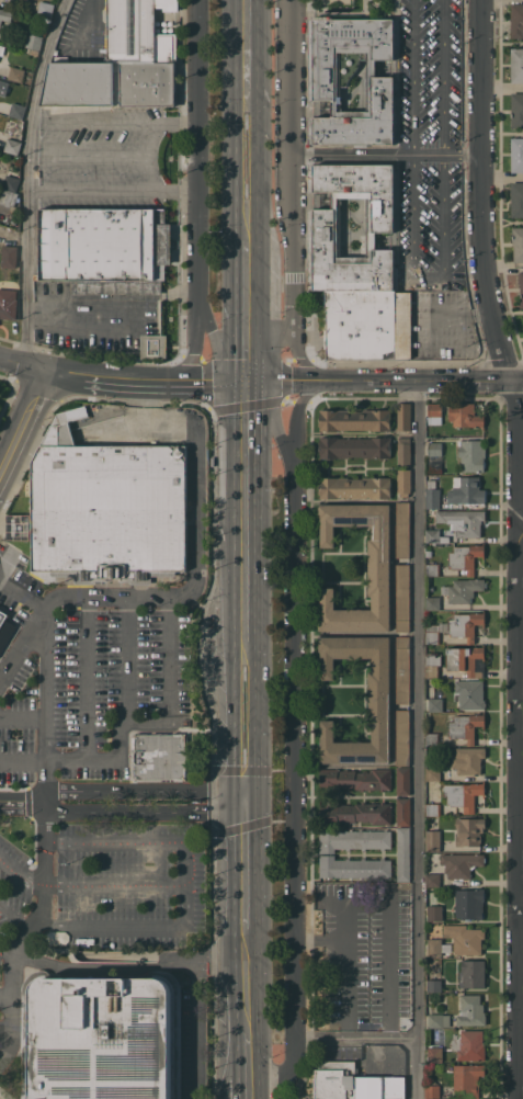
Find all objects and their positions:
road: (245, 3)
road: (247, 3)
building: (46, 8)
building: (5, 14)
building: (516, 20)
building: (138, 32)
building: (34, 41)
road: (246, 47)
building: (1, 48)
building: (516, 65)
building: (16, 73)
road: (412, 79)
road: (444, 80)
building: (112, 83)
building: (323, 86)
building: (25, 92)
building: (16, 110)
building: (516, 110)
road: (113, 122)
road: (151, 139)
building: (12, 146)
road: (245, 154)
building: (516, 155)
road: (105, 157)
road: (388, 159)
road: (27, 178)
building: (11, 180)
road: (111, 189)
road: (196, 191)
road: (295, 194)
building: (8, 196)
building: (516, 199)
road: (480, 213)
road: (413, 218)
building: (323, 219)
road: (445, 219)
building: (518, 243)
building: (105, 249)
building: (9, 256)
road: (503, 264)
road: (430, 279)
building: (521, 285)
road: (243, 301)
building: (8, 305)
building: (367, 324)
road: (214, 337)
building: (154, 345)
road: (264, 350)
road: (20, 362)
road: (143, 377)
traffic signals: (245, 382)
road: (383, 383)
building: (434, 409)
building: (465, 415)
building: (403, 416)
road: (22, 418)
building: (355, 419)
road: (270, 426)
building: (354, 446)
building: (434, 449)
building: (403, 451)
building: (471, 454)
building: (403, 481)
building: (355, 487)
building: (466, 490)
building: (432, 495)
building: (105, 507)
road: (243, 513)
building: (463, 521)
building: (16, 526)
building: (402, 529)
building: (435, 535)
road: (195, 544)
building: (466, 556)
building: (379, 566)
building: (433, 569)
building: (463, 589)
road: (22, 594)
building: (402, 597)
building: (433, 602)
building: (2, 616)
building: (466, 624)
building: (434, 632)
road: (127, 658)
building: (467, 659)
road: (11, 661)
building: (432, 664)
building: (402, 668)
road: (87, 678)
road: (45, 683)
building: (469, 693)
building: (379, 699)
building: (435, 704)
road: (22, 716)
road: (151, 722)
road: (242, 722)
building: (466, 726)
building: (402, 736)
building: (432, 738)
road: (416, 741)
road: (295, 747)
building: (159, 756)
road: (22, 758)
building: (468, 759)
building: (433, 773)
building: (356, 778)
road: (44, 780)
building: (403, 780)
road: (141, 791)
building: (464, 794)
road: (22, 797)
traffic signals: (242, 798)
building: (433, 808)
road: (143, 811)
building: (403, 811)
building: (356, 813)
road: (520, 814)
building: (469, 830)
building: (353, 839)
building: (433, 839)
road: (156, 841)
building: (403, 853)
road: (44, 863)
road: (242, 863)
building: (461, 863)
building: (353, 866)
road: (22, 870)
building: (433, 880)
road: (113, 886)
building: (469, 903)
building: (435, 913)
road: (14, 917)
road: (113, 927)
road: (314, 931)
building: (465, 938)
road: (365, 940)
building: (437, 947)
road: (5, 953)
road: (12, 960)
road: (394, 962)
road: (126, 965)
building: (473, 972)
road: (242, 975)
road: (332, 984)
building: (434, 985)
road: (5, 1001)
building: (470, 1010)
building: (439, 1020)
road: (5, 1022)
road: (191, 1032)
road: (314, 1034)
building: (101, 1036)
road: (9, 1041)
building: (470, 1044)
road: (242, 1052)
building: (434, 1053)
building: (467, 1079)
building: (353, 1083)
power substation: (354, 1083)
road: (242, 1089)
building: (432, 1090)
building: (437, 1098)

